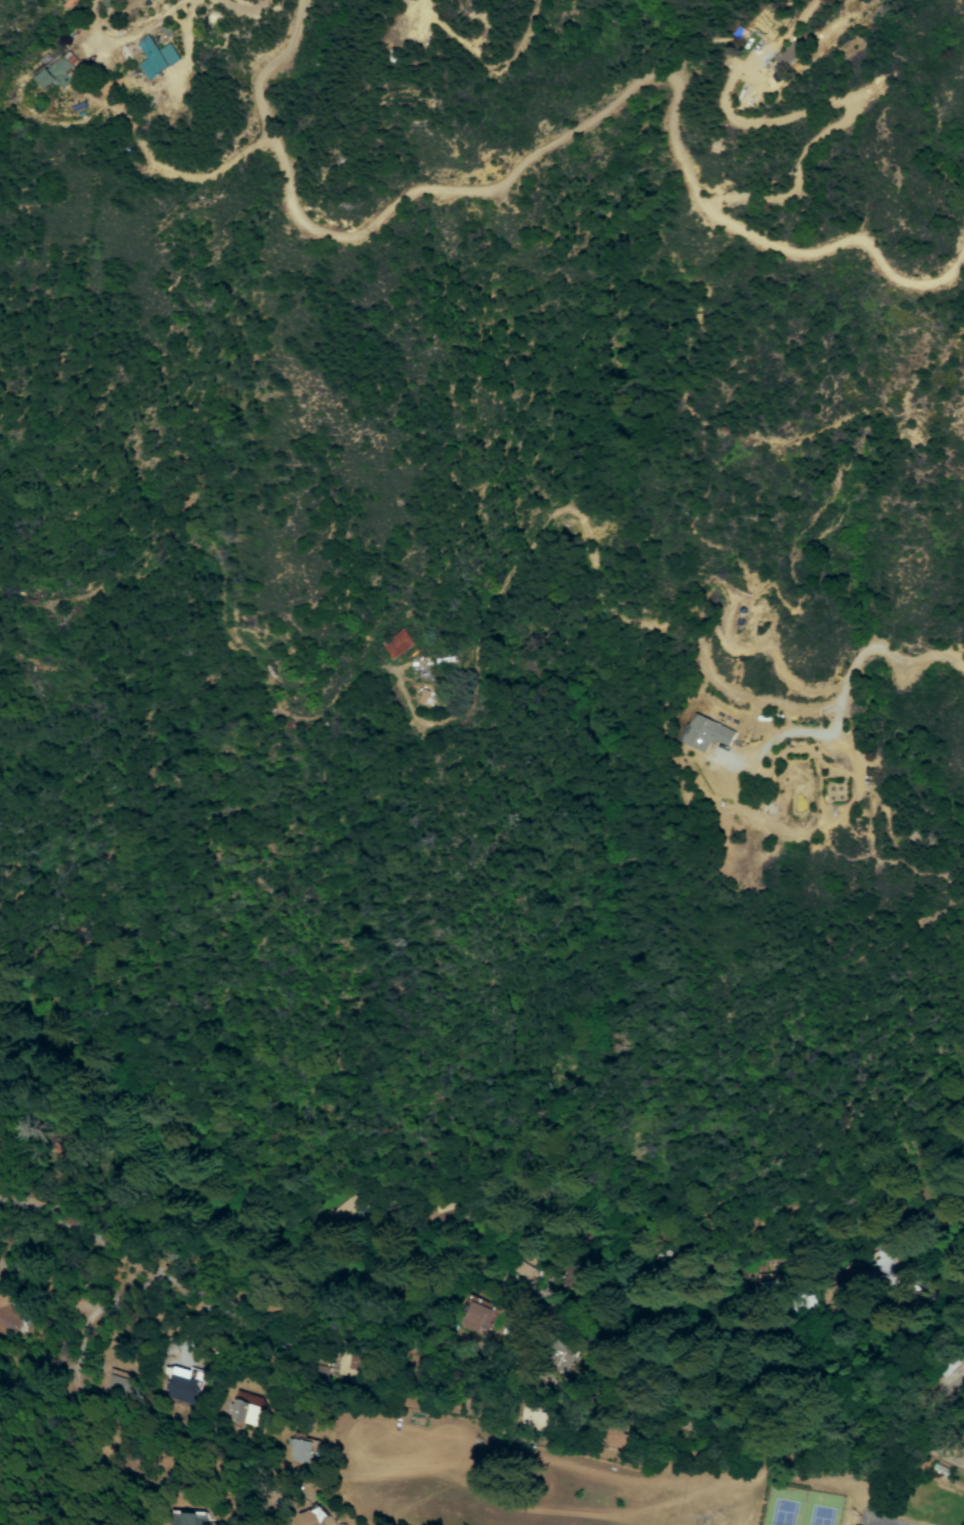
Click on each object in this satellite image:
road: (187, 1)
road: (54, 7)
road: (244, 10)
road: (417, 17)
road: (88, 21)
road: (135, 32)
road: (784, 32)
building: (157, 56)
building: (53, 76)
road: (852, 106)
road: (125, 121)
road: (576, 127)
building: (397, 644)
building: (422, 696)
road: (842, 701)
building: (706, 734)
building: (8, 1316)
building: (476, 1316)
road: (475, 1341)
building: (180, 1382)
building: (249, 1413)
building: (305, 1451)
park: (803, 1507)
building: (179, 1518)
building: (309, 1518)
park: (883, 1520)

